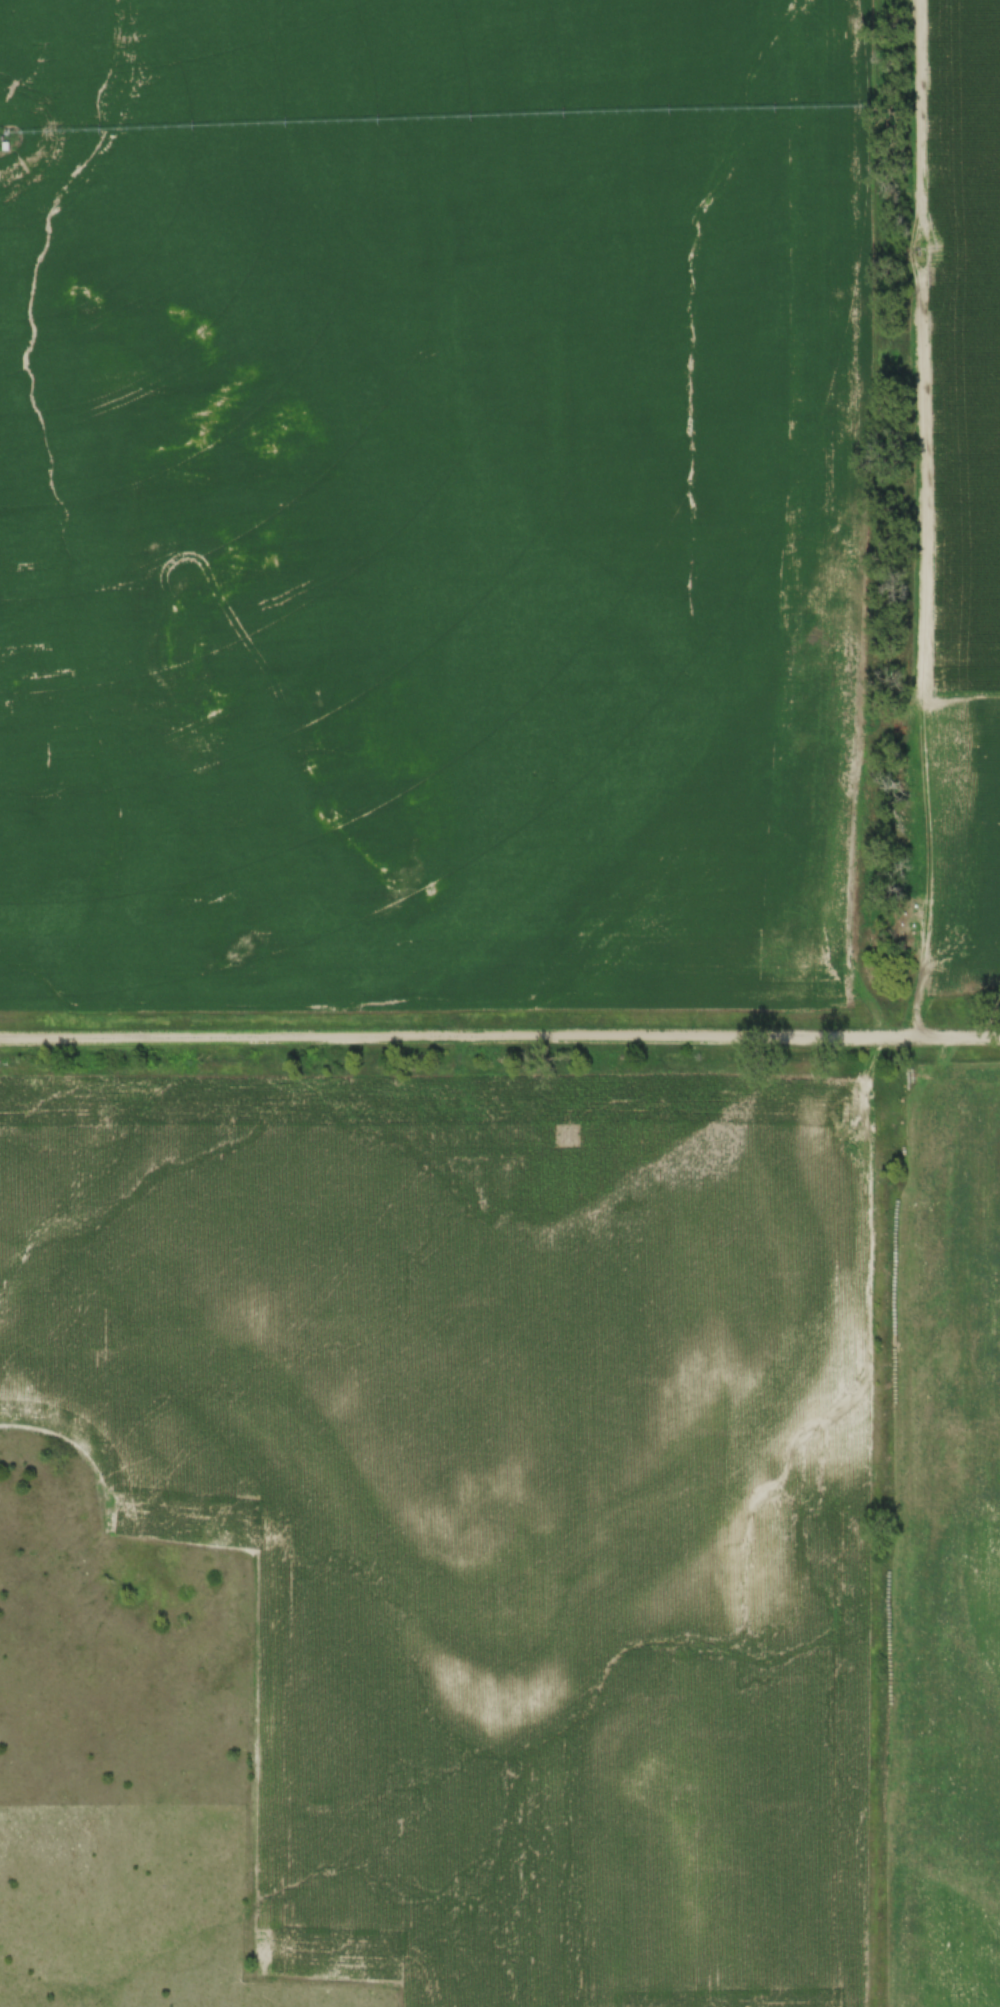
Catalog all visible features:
road: (499, 1039)

